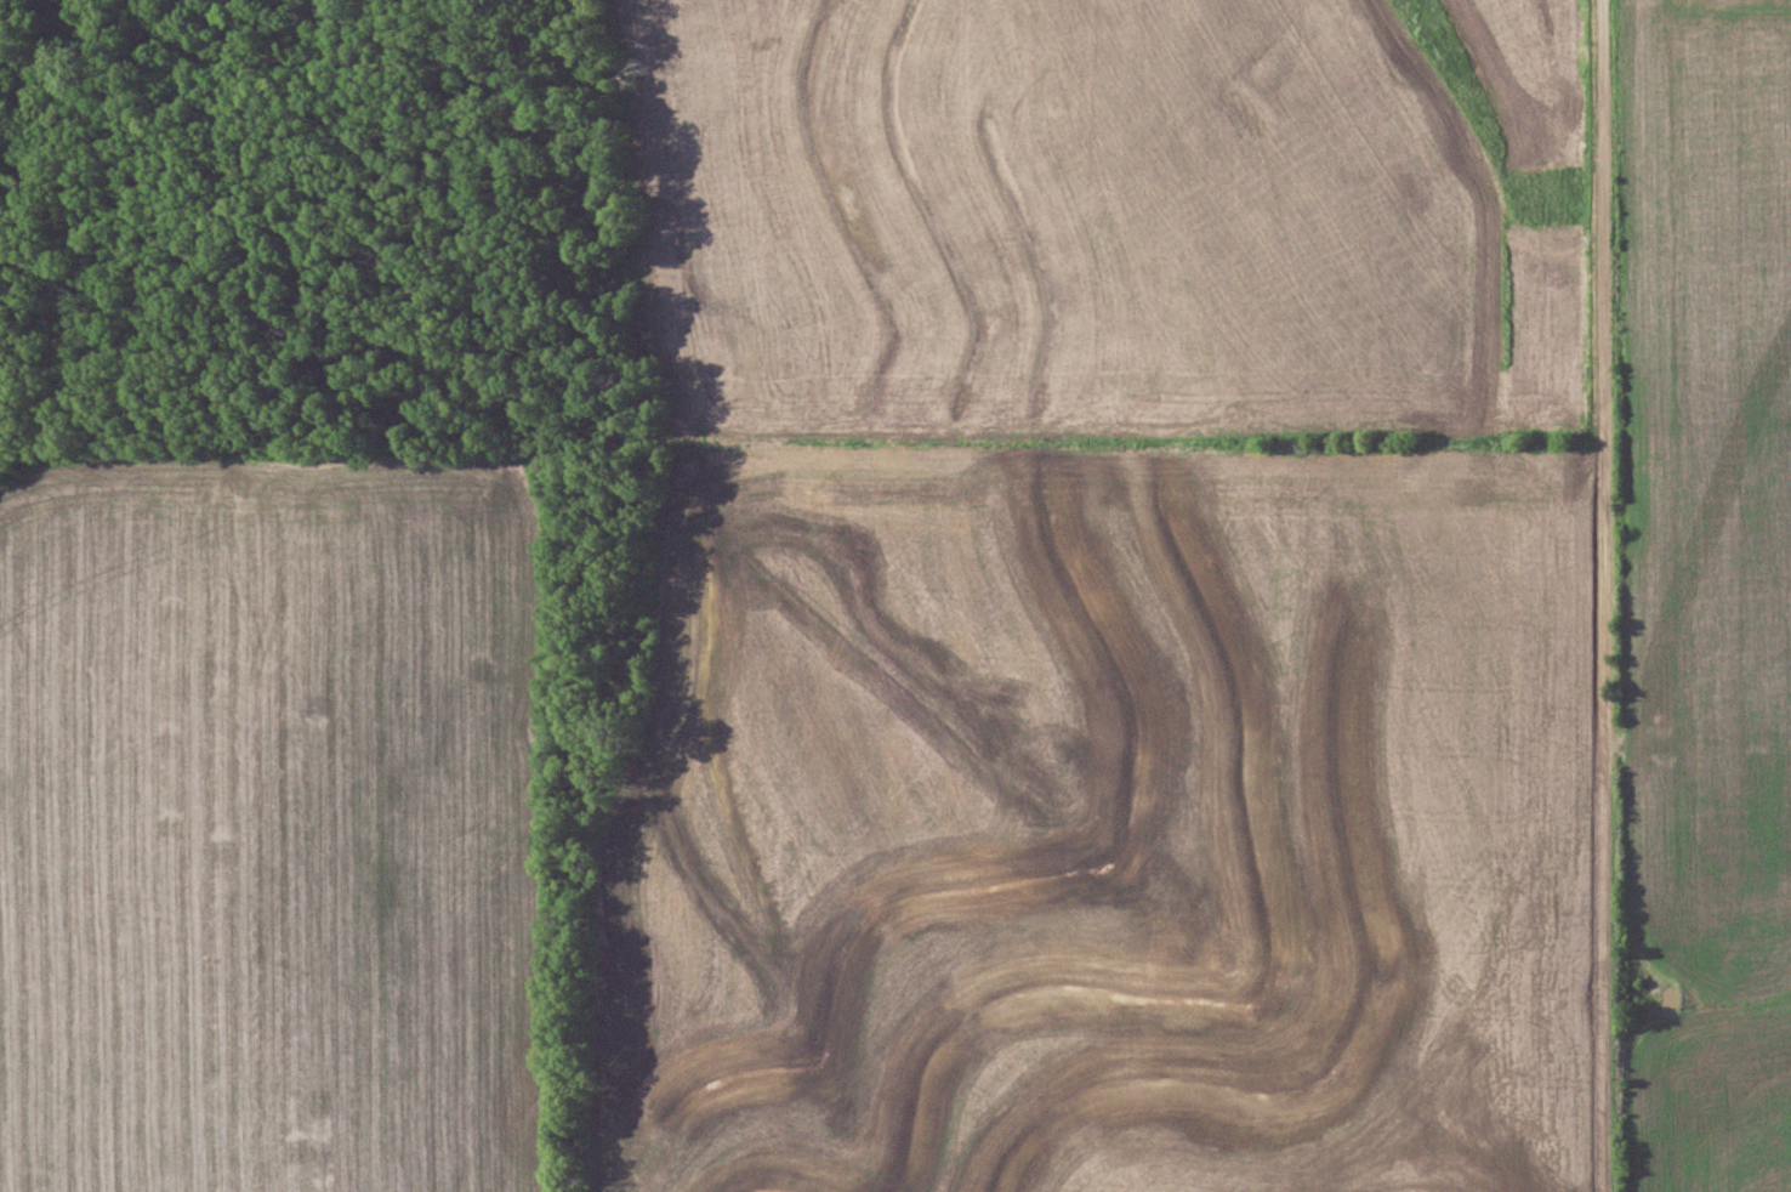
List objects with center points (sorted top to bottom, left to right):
crop: (1708, 590)
road: (1600, 595)

